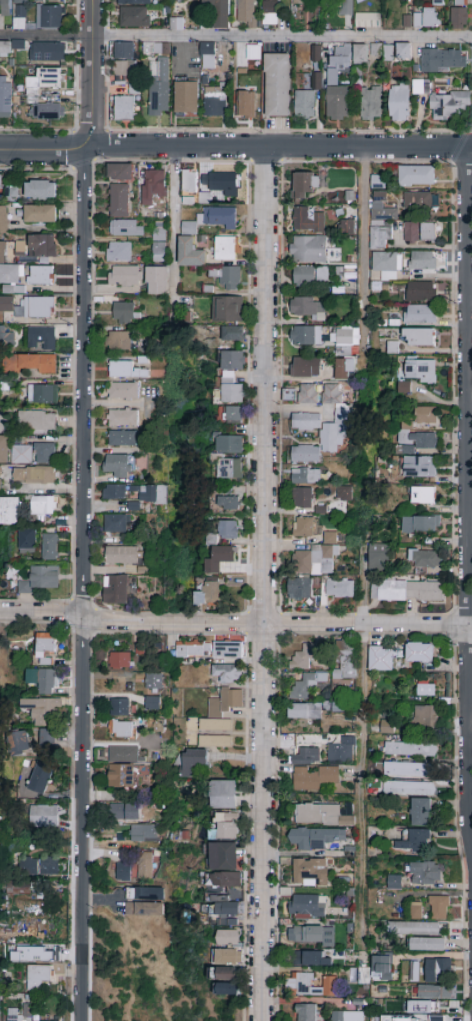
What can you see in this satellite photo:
building: (53, 0)
building: (19, 1)
building: (300, 1)
building: (134, 2)
building: (437, 2)
building: (346, 7)
building: (5, 8)
building: (219, 12)
building: (269, 13)
building: (246, 14)
building: (458, 16)
building: (134, 17)
building: (51, 18)
building: (430, 18)
building: (19, 19)
building: (367, 21)
building: (411, 21)
road: (236, 37)
building: (6, 48)
building: (156, 48)
building: (123, 50)
building: (383, 51)
building: (48, 52)
building: (253, 52)
building: (403, 52)
building: (361, 54)
building: (207, 55)
building: (340, 58)
building: (429, 60)
building: (452, 60)
building: (124, 68)
road: (91, 74)
building: (47, 80)
building: (277, 85)
building: (159, 87)
building: (420, 87)
building: (133, 89)
building: (186, 97)
building: (5, 102)
building: (215, 102)
building: (337, 103)
building: (370, 103)
building: (400, 103)
building: (247, 104)
building: (305, 105)
building: (448, 105)
building: (125, 108)
building: (48, 112)
road: (235, 146)
building: (120, 172)
building: (416, 176)
building: (189, 182)
building: (220, 182)
building: (378, 182)
building: (1, 183)
building: (306, 184)
building: (153, 185)
building: (42, 190)
building: (197, 199)
building: (118, 200)
building: (419, 201)
building: (40, 214)
building: (218, 217)
building: (303, 219)
building: (3, 220)
building: (380, 220)
building: (347, 227)
building: (125, 228)
building: (189, 228)
road: (173, 231)
building: (429, 232)
building: (411, 233)
building: (158, 244)
building: (42, 246)
road: (425, 246)
building: (226, 249)
building: (308, 250)
building: (118, 252)
building: (190, 252)
road: (363, 257)
building: (422, 261)
building: (386, 264)
building: (9, 274)
building: (41, 276)
building: (124, 276)
building: (308, 276)
building: (226, 277)
building: (156, 281)
building: (421, 292)
building: (29, 307)
building: (306, 307)
building: (227, 309)
building: (123, 314)
building: (420, 315)
building: (233, 335)
building: (305, 336)
building: (345, 337)
building: (418, 337)
building: (6, 338)
building: (41, 338)
building: (119, 341)
building: (32, 364)
building: (306, 368)
building: (345, 369)
building: (125, 370)
building: (421, 370)
building: (231, 377)
building: (123, 391)
building: (42, 394)
building: (309, 394)
building: (332, 394)
building: (234, 414)
building: (344, 414)
building: (425, 415)
building: (123, 418)
building: (307, 422)
building: (3, 423)
building: (37, 423)
building: (123, 438)
building: (330, 438)
building: (415, 441)
building: (229, 445)
building: (4, 450)
building: (44, 453)
building: (306, 454)
building: (21, 455)
building: (119, 466)
building: (420, 467)
building: (230, 470)
building: (34, 476)
building: (306, 476)
building: (0, 481)
building: (114, 492)
building: (152, 493)
building: (345, 495)
building: (422, 496)
road: (466, 496)
building: (303, 498)
building: (228, 500)
building: (44, 506)
building: (133, 506)
building: (10, 511)
building: (116, 524)
building: (421, 525)
building: (304, 528)
building: (228, 530)
building: (330, 539)
building: (28, 541)
building: (50, 547)
building: (122, 555)
building: (219, 559)
building: (377, 559)
building: (424, 559)
building: (316, 561)
building: (41, 580)
road: (262, 583)
road: (84, 584)
road: (363, 587)
building: (300, 588)
building: (115, 590)
building: (340, 590)
building: (405, 591)
building: (208, 595)
road: (42, 613)
road: (277, 623)
building: (46, 649)
building: (210, 650)
building: (420, 654)
building: (304, 657)
building: (381, 659)
building: (119, 660)
building: (345, 661)
building: (226, 674)
building: (43, 681)
building: (154, 682)
building: (306, 685)
building: (425, 689)
building: (152, 704)
building: (120, 707)
building: (336, 707)
building: (42, 710)
building: (221, 711)
building: (307, 711)
building: (423, 716)
building: (387, 727)
building: (121, 730)
building: (48, 739)
building: (215, 742)
building: (19, 743)
building: (340, 750)
building: (410, 750)
building: (123, 754)
building: (305, 756)
building: (190, 762)
building: (407, 769)
building: (122, 776)
building: (40, 778)
building: (313, 778)
road: (363, 786)
building: (413, 788)
building: (223, 795)
building: (420, 812)
building: (124, 813)
building: (320, 814)
building: (43, 817)
building: (143, 819)
building: (226, 826)
building: (143, 833)
building: (312, 839)
building: (419, 840)
building: (224, 857)
building: (144, 866)
building: (41, 867)
building: (122, 872)
building: (310, 873)
building: (426, 873)
building: (394, 883)
building: (21, 884)
building: (225, 898)
building: (144, 902)
building: (306, 905)
building: (439, 908)
building: (416, 912)
building: (413, 928)
building: (313, 936)
building: (228, 938)
building: (427, 944)
building: (314, 959)
building: (227, 965)
building: (441, 968)
building: (382, 969)
building: (413, 971)
building: (362, 975)
building: (38, 976)
building: (302, 981)
park: (154, 983)
building: (1, 986)
building: (228, 990)
building: (435, 992)
building: (422, 1008)
building: (305, 1013)
building: (347, 1016)
building: (16, 1017)
building: (437, 1018)
building: (403, 1019)
building: (47, 1020)

